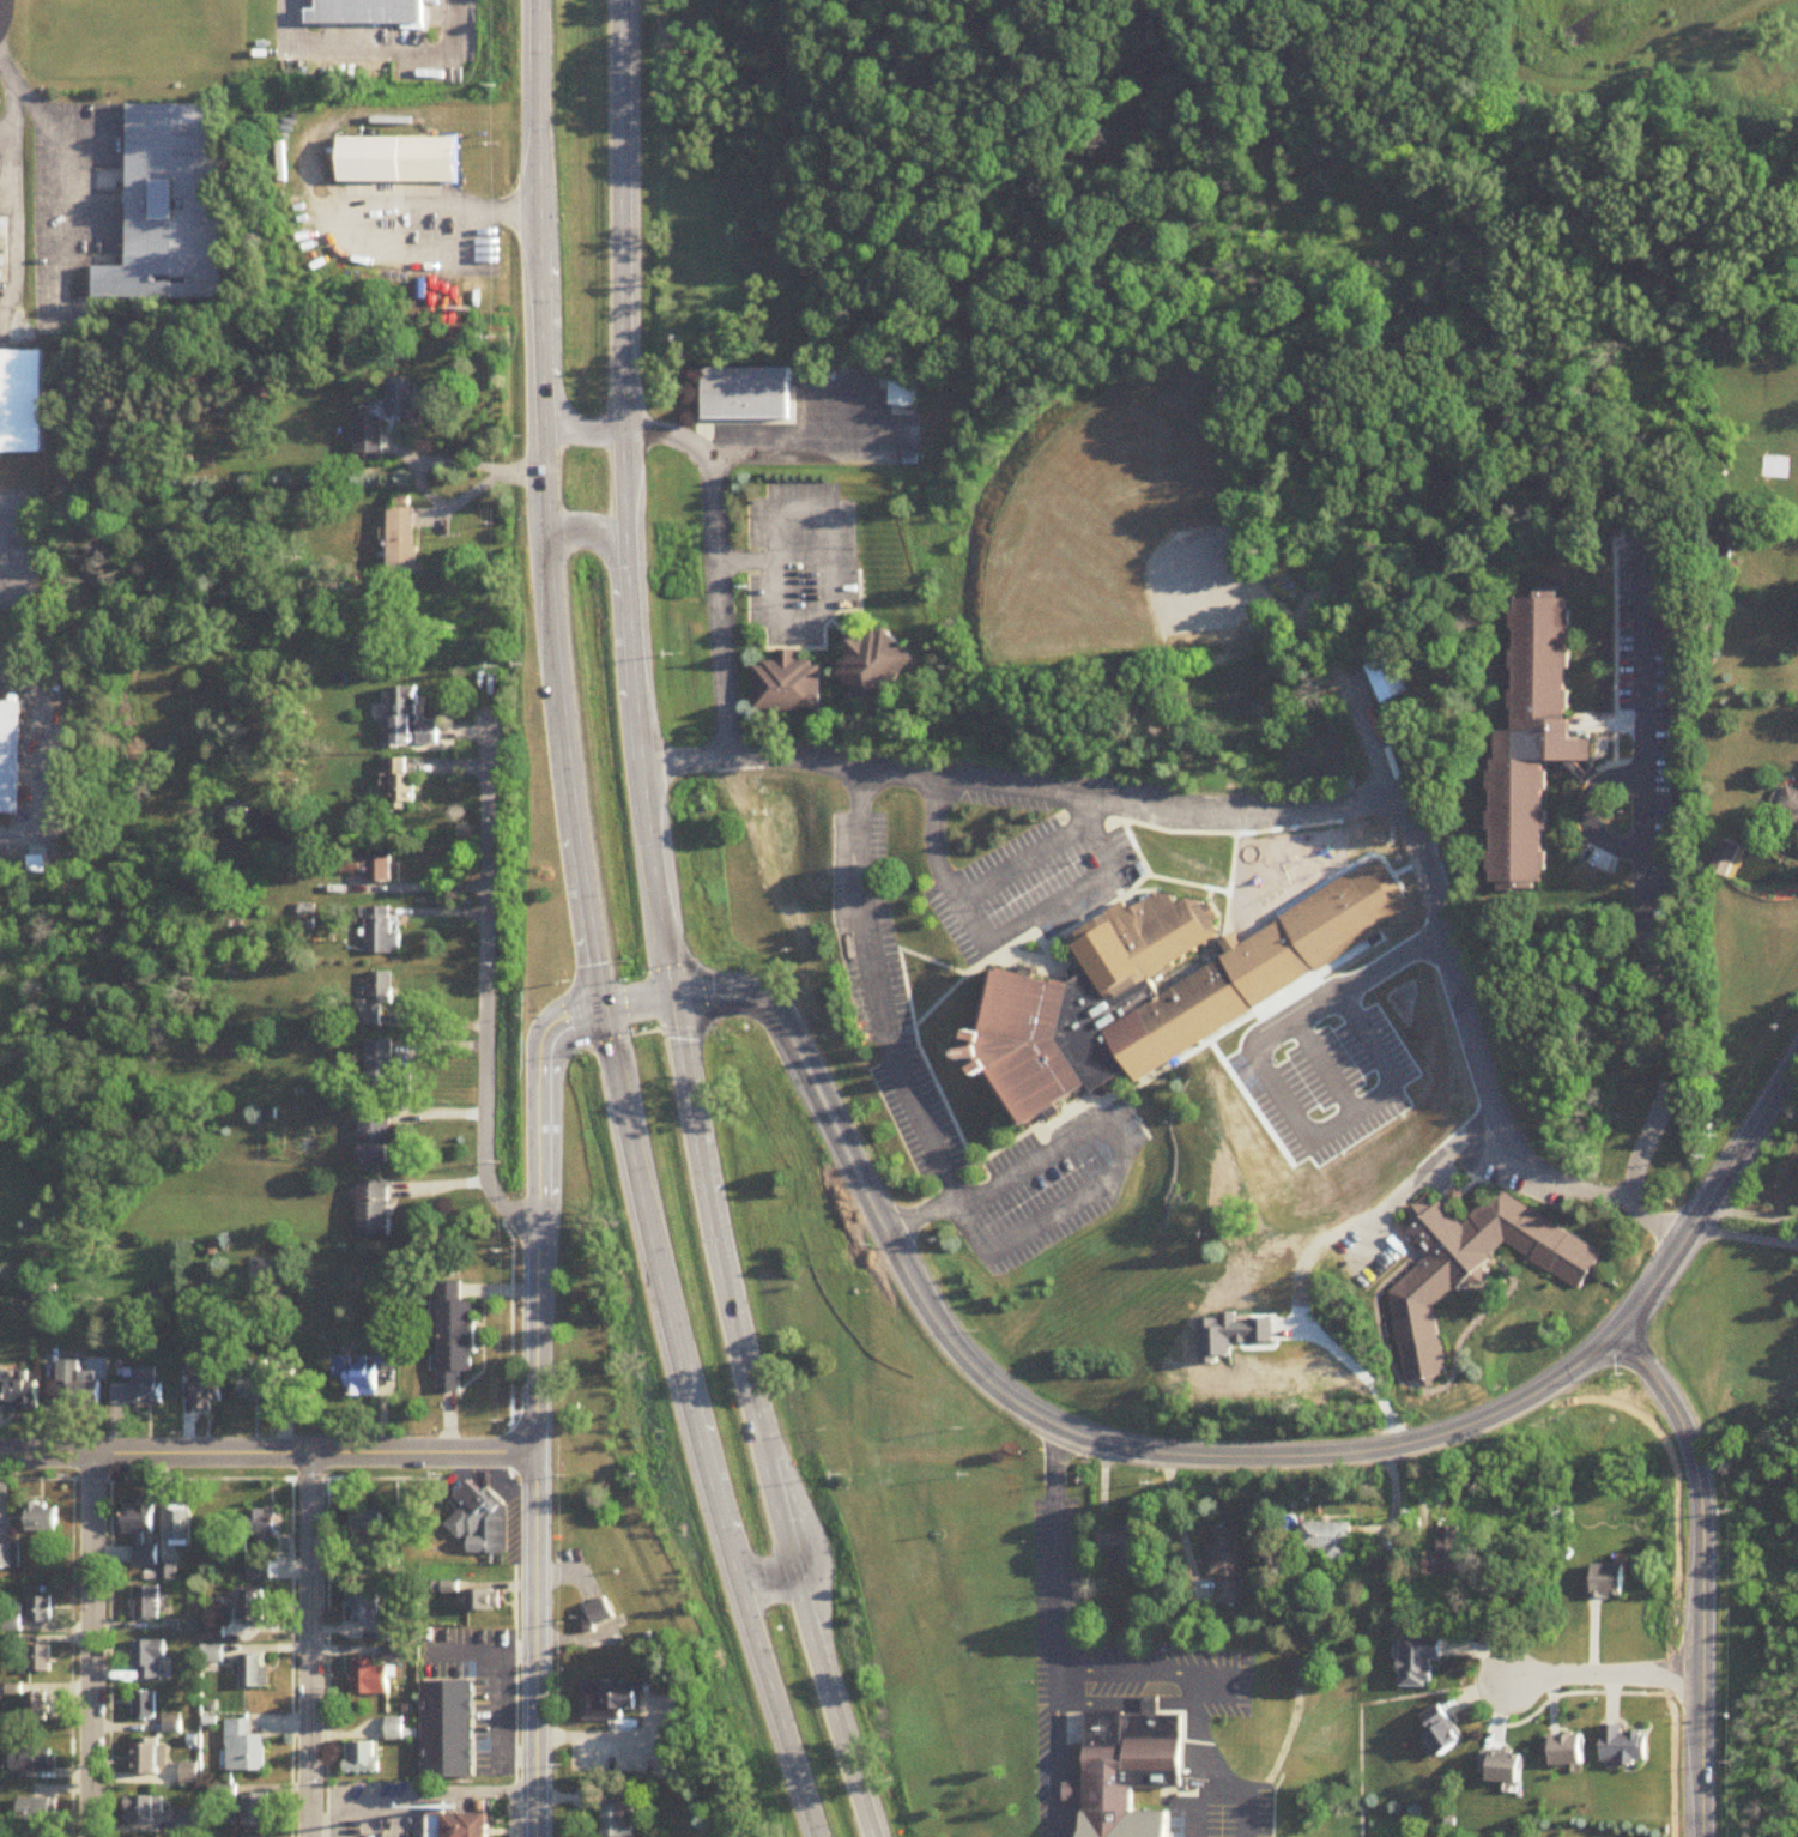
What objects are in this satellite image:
building: (358, 10)
road: (359, 43)
road: (42, 116)
road: (4, 131)
building: (396, 155)
road: (11, 200)
building: (165, 201)
road: (53, 207)
road: (358, 213)
road: (80, 232)
building: (901, 389)
building: (17, 394)
building: (745, 395)
building: (401, 399)
building: (367, 431)
road: (577, 433)
road: (467, 465)
road: (420, 488)
road: (465, 495)
road: (625, 500)
road: (550, 504)
road: (7, 512)
road: (825, 534)
building: (401, 542)
road: (600, 542)
park: (1124, 552)
road: (718, 558)
road: (8, 567)
building: (1671, 630)
building: (873, 664)
building: (1386, 678)
building: (787, 684)
building: (408, 720)
building: (1534, 741)
building: (10, 756)
road: (40, 759)
building: (399, 786)
road: (1015, 790)
building: (1791, 802)
road: (1591, 812)
road: (1237, 835)
building: (1729, 858)
building: (376, 869)
road: (1228, 887)
road: (981, 890)
road: (1217, 890)
road: (1206, 896)
road: (1052, 906)
road: (1643, 907)
park: (1320, 926)
building: (380, 932)
road: (1300, 932)
building: (1348, 957)
road: (1034, 962)
road: (964, 973)
road: (1451, 980)
road: (485, 984)
building: (1233, 987)
road: (1287, 993)
road: (755, 998)
building: (374, 999)
traffic signals: (673, 999)
road: (638, 1003)
traffic signals: (605, 1007)
road: (739, 1019)
road: (888, 1025)
building: (1042, 1044)
building: (383, 1074)
road: (1385, 1119)
building: (374, 1136)
road: (1003, 1150)
road: (1116, 1166)
road: (1467, 1166)
building: (1290, 1168)
road: (1427, 1173)
road: (1713, 1197)
building: (373, 1209)
road: (1752, 1214)
road: (1424, 1227)
road: (1745, 1235)
building: (1470, 1258)
road: (537, 1268)
road: (506, 1335)
road: (1315, 1335)
building: (455, 1336)
building: (386, 1354)
building: (356, 1374)
building: (266, 1379)
building: (83, 1380)
building: (207, 1384)
building: (140, 1389)
building: (18, 1394)
road: (531, 1421)
road: (756, 1422)
road: (694, 1426)
road: (1125, 1446)
road: (267, 1448)
road: (443, 1464)
road: (501, 1480)
building: (42, 1518)
road: (1178, 1518)
building: (365, 1522)
building: (482, 1522)
building: (180, 1528)
building: (261, 1528)
building: (141, 1534)
building: (1330, 1540)
building: (1122, 1549)
building: (1445, 1555)
building: (10, 1558)
park: (934, 1558)
building: (1228, 1563)
road: (1705, 1571)
building: (168, 1572)
road: (763, 1583)
building: (1606, 1583)
building: (447, 1588)
building: (483, 1601)
building: (146, 1603)
building: (253, 1606)
building: (364, 1607)
building: (41, 1611)
building: (597, 1614)
road: (1058, 1614)
road: (597, 1615)
building: (392, 1630)
road: (304, 1642)
road: (87, 1643)
road: (321, 1650)
road: (67, 1651)
road: (104, 1651)
road: (286, 1651)
road: (479, 1654)
building: (40, 1660)
building: (150, 1660)
building: (1418, 1661)
building: (254, 1672)
road: (1602, 1674)
building: (1300, 1675)
building: (370, 1679)
road: (1211, 1688)
road: (1194, 1691)
road: (535, 1698)
building: (611, 1699)
building: (144, 1704)
building: (36, 1708)
road: (1526, 1709)
road: (1354, 1714)
road: (500, 1722)
building: (399, 1729)
building: (448, 1730)
building: (1443, 1732)
road: (594, 1736)
building: (1623, 1746)
building: (243, 1748)
building: (1569, 1751)
road: (1057, 1752)
road: (1201, 1752)
building: (146, 1757)
building: (362, 1758)
building: (34, 1760)
building: (1126, 1767)
building: (1506, 1767)
building: (189, 1773)
road: (422, 1794)
road: (1205, 1799)
building: (38, 1809)
building: (141, 1809)
building: (258, 1812)
road: (1246, 1815)
building: (617, 1818)
building: (186, 1821)
building: (467, 1826)
road: (320, 1832)

